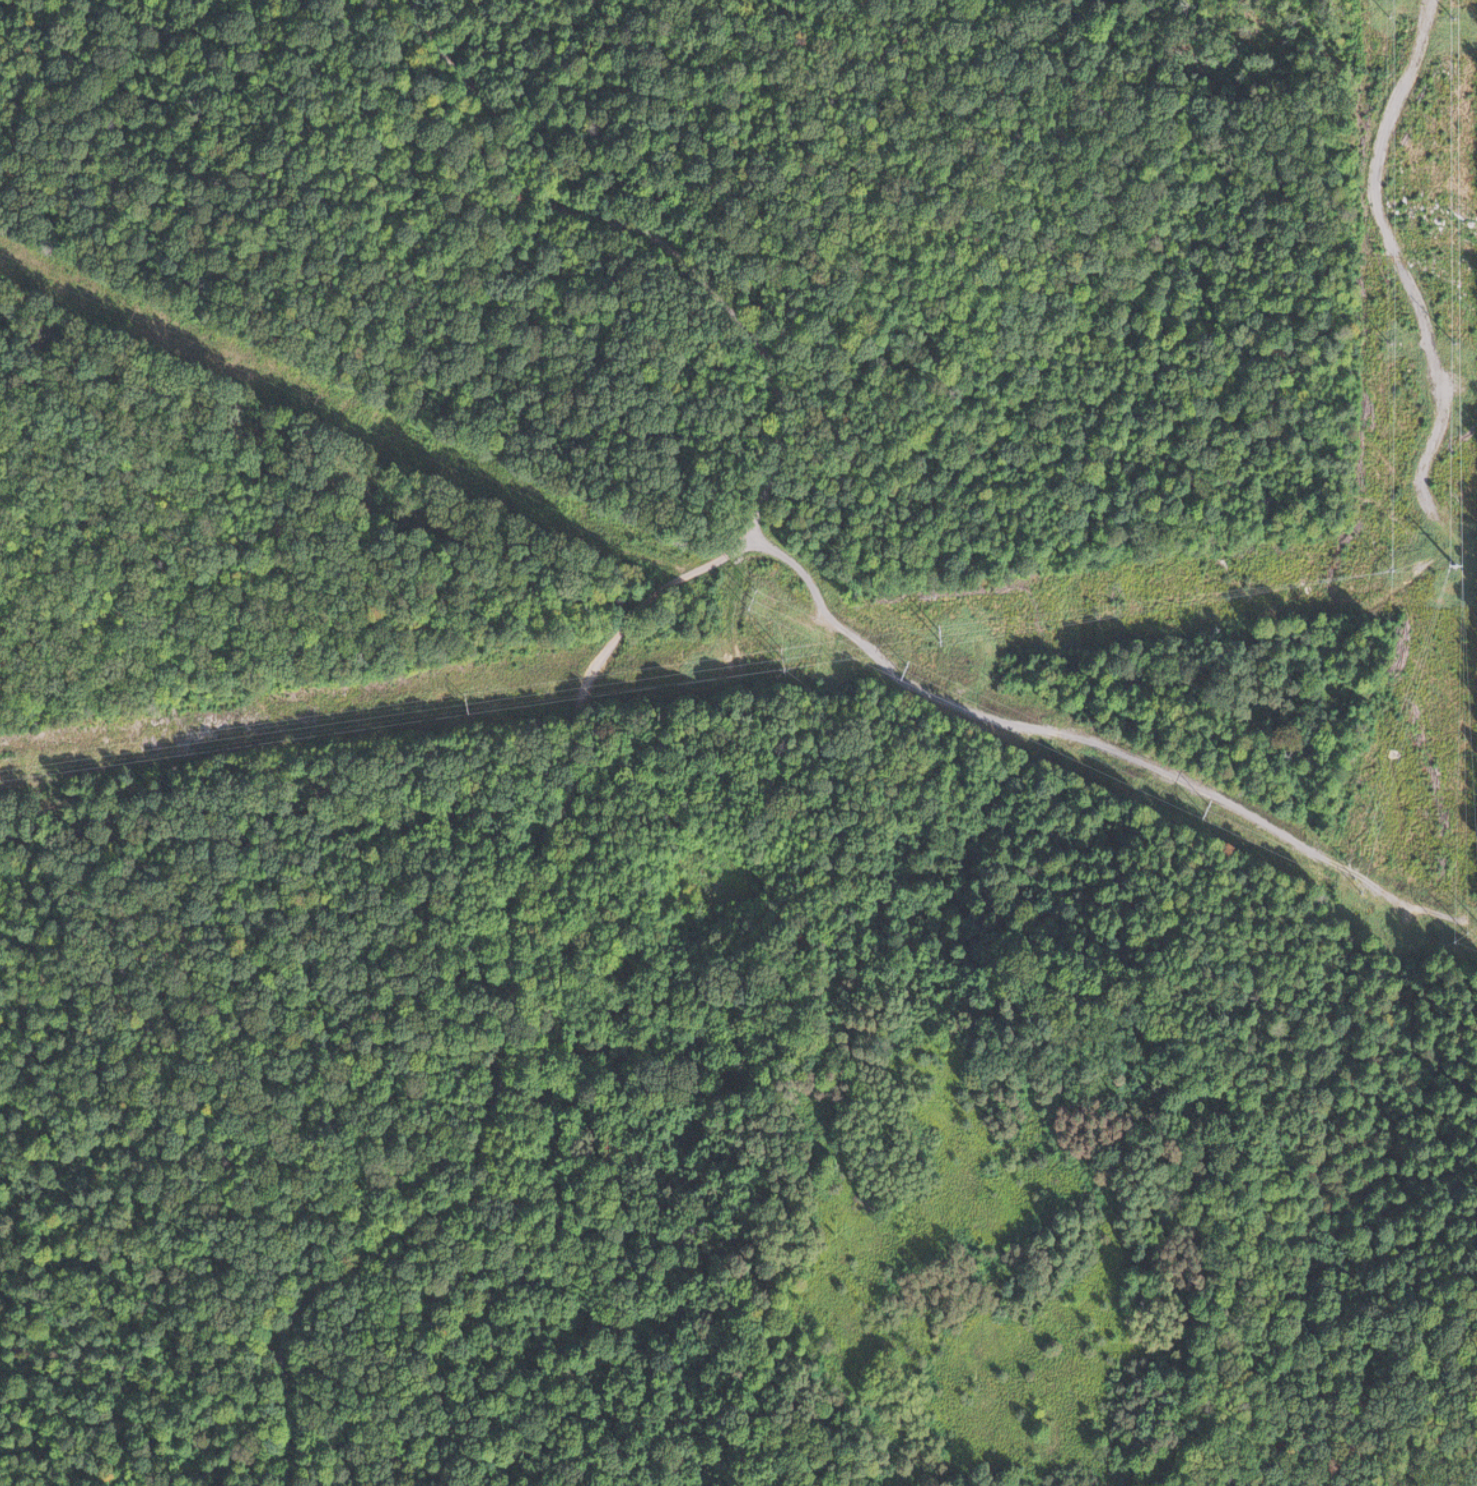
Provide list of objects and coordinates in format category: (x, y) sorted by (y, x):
road: (649, 253)
road: (819, 800)
road: (520, 1041)

